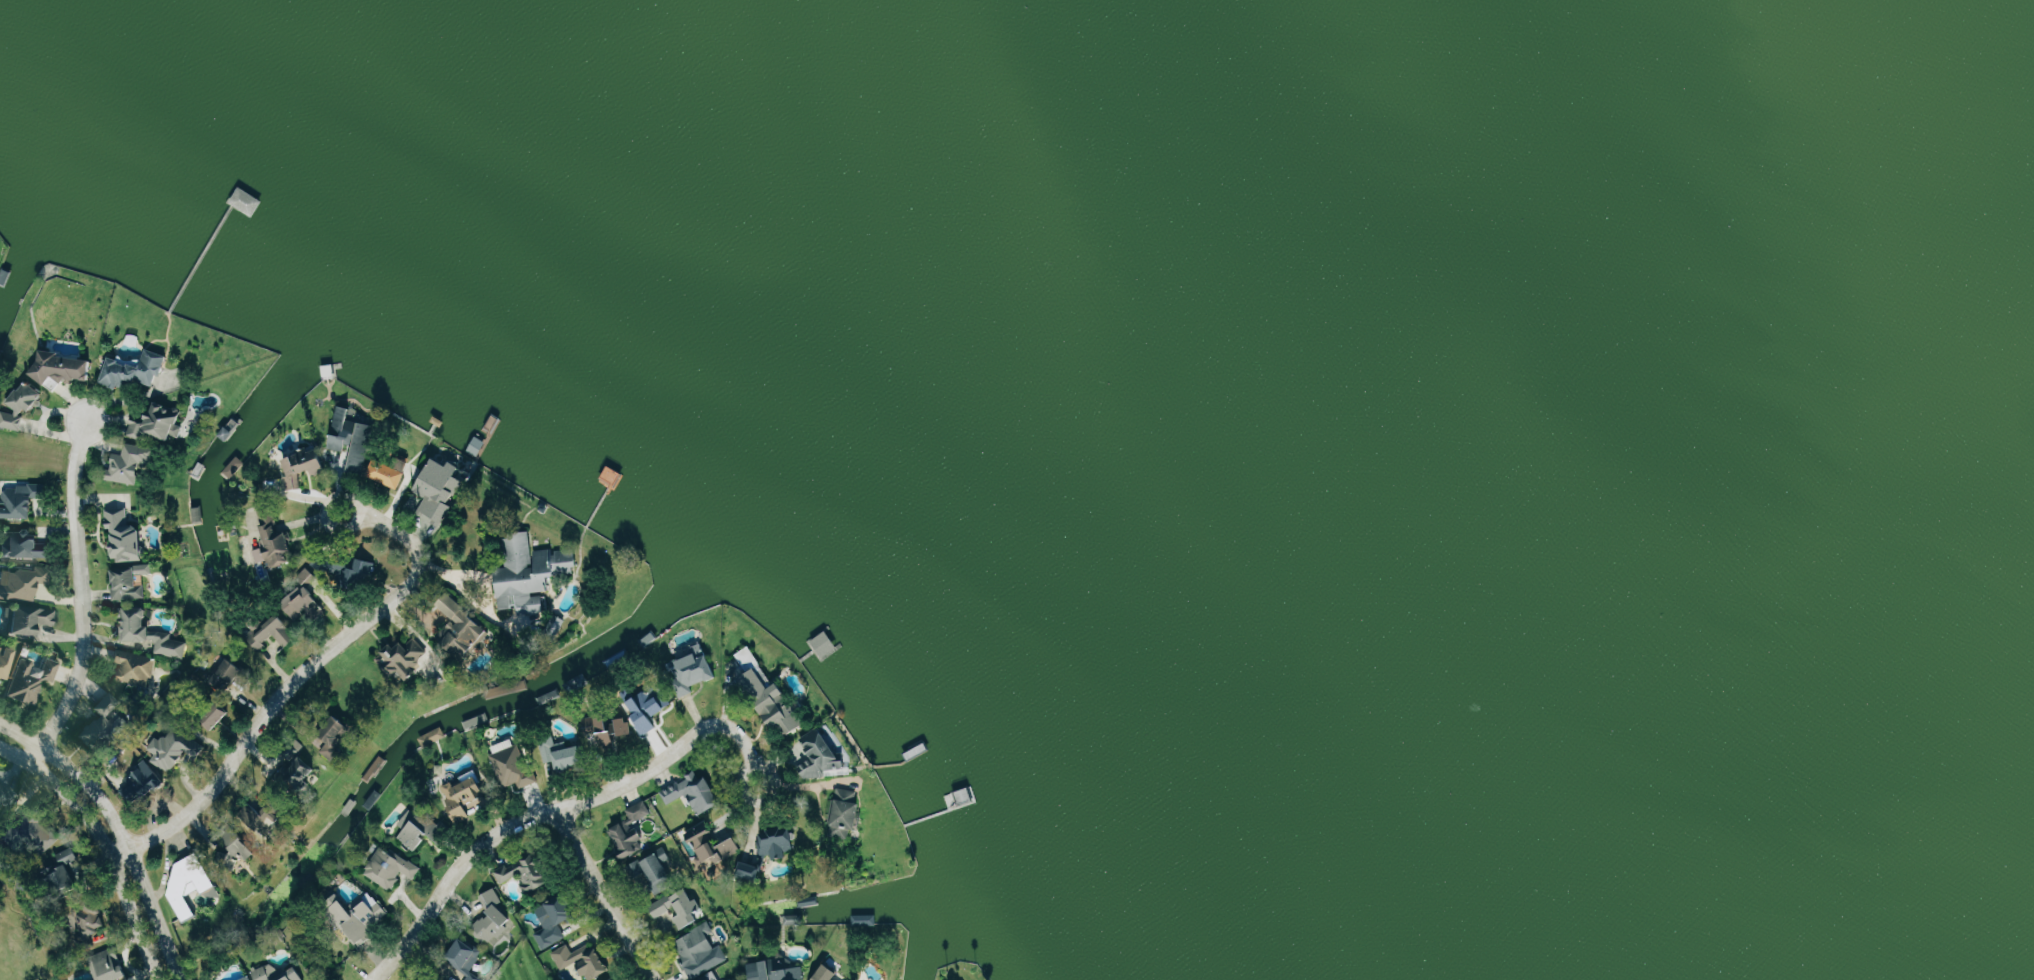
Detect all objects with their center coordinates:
river: (1853, 250)
building: (64, 368)
building: (135, 369)
building: (22, 406)
building: (158, 422)
building: (353, 441)
building: (130, 463)
building: (236, 465)
building: (304, 466)
building: (388, 473)
building: (441, 488)
building: (20, 500)
building: (125, 537)
building: (273, 541)
building: (24, 544)
building: (357, 572)
building: (530, 574)
building: (130, 581)
building: (21, 583)
road: (88, 587)
building: (302, 599)
building: (32, 618)
building: (463, 626)
building: (272, 632)
building: (150, 634)
building: (403, 657)
building: (6, 661)
road: (319, 666)
building: (695, 668)
building: (135, 669)
building: (231, 674)
building: (32, 679)
building: (650, 710)
building: (216, 716)
building: (106, 722)
building: (610, 727)
building: (435, 735)
building: (337, 740)
building: (171, 750)
road: (45, 754)
building: (563, 754)
building: (822, 757)
building: (513, 767)
building: (297, 772)
building: (142, 782)
building: (695, 791)
building: (6, 794)
building: (465, 794)
road: (574, 804)
building: (846, 813)
building: (262, 816)
building: (407, 821)
road: (122, 828)
building: (423, 831)
building: (631, 831)
building: (43, 835)
road: (110, 839)
building: (776, 841)
building: (713, 843)
building: (238, 846)
road: (129, 854)
building: (390, 867)
building: (750, 871)
building: (526, 872)
building: (655, 872)
building: (71, 876)
building: (190, 880)
road: (608, 895)
building: (680, 910)
building: (359, 916)
building: (494, 918)
building: (92, 920)
building: (555, 920)
building: (700, 950)
building: (466, 957)
building: (582, 960)
building: (109, 965)
building: (775, 971)
building: (278, 973)
building: (827, 973)
building: (705, 978)
building: (245, 979)
building: (616, 979)
building: (736, 979)

